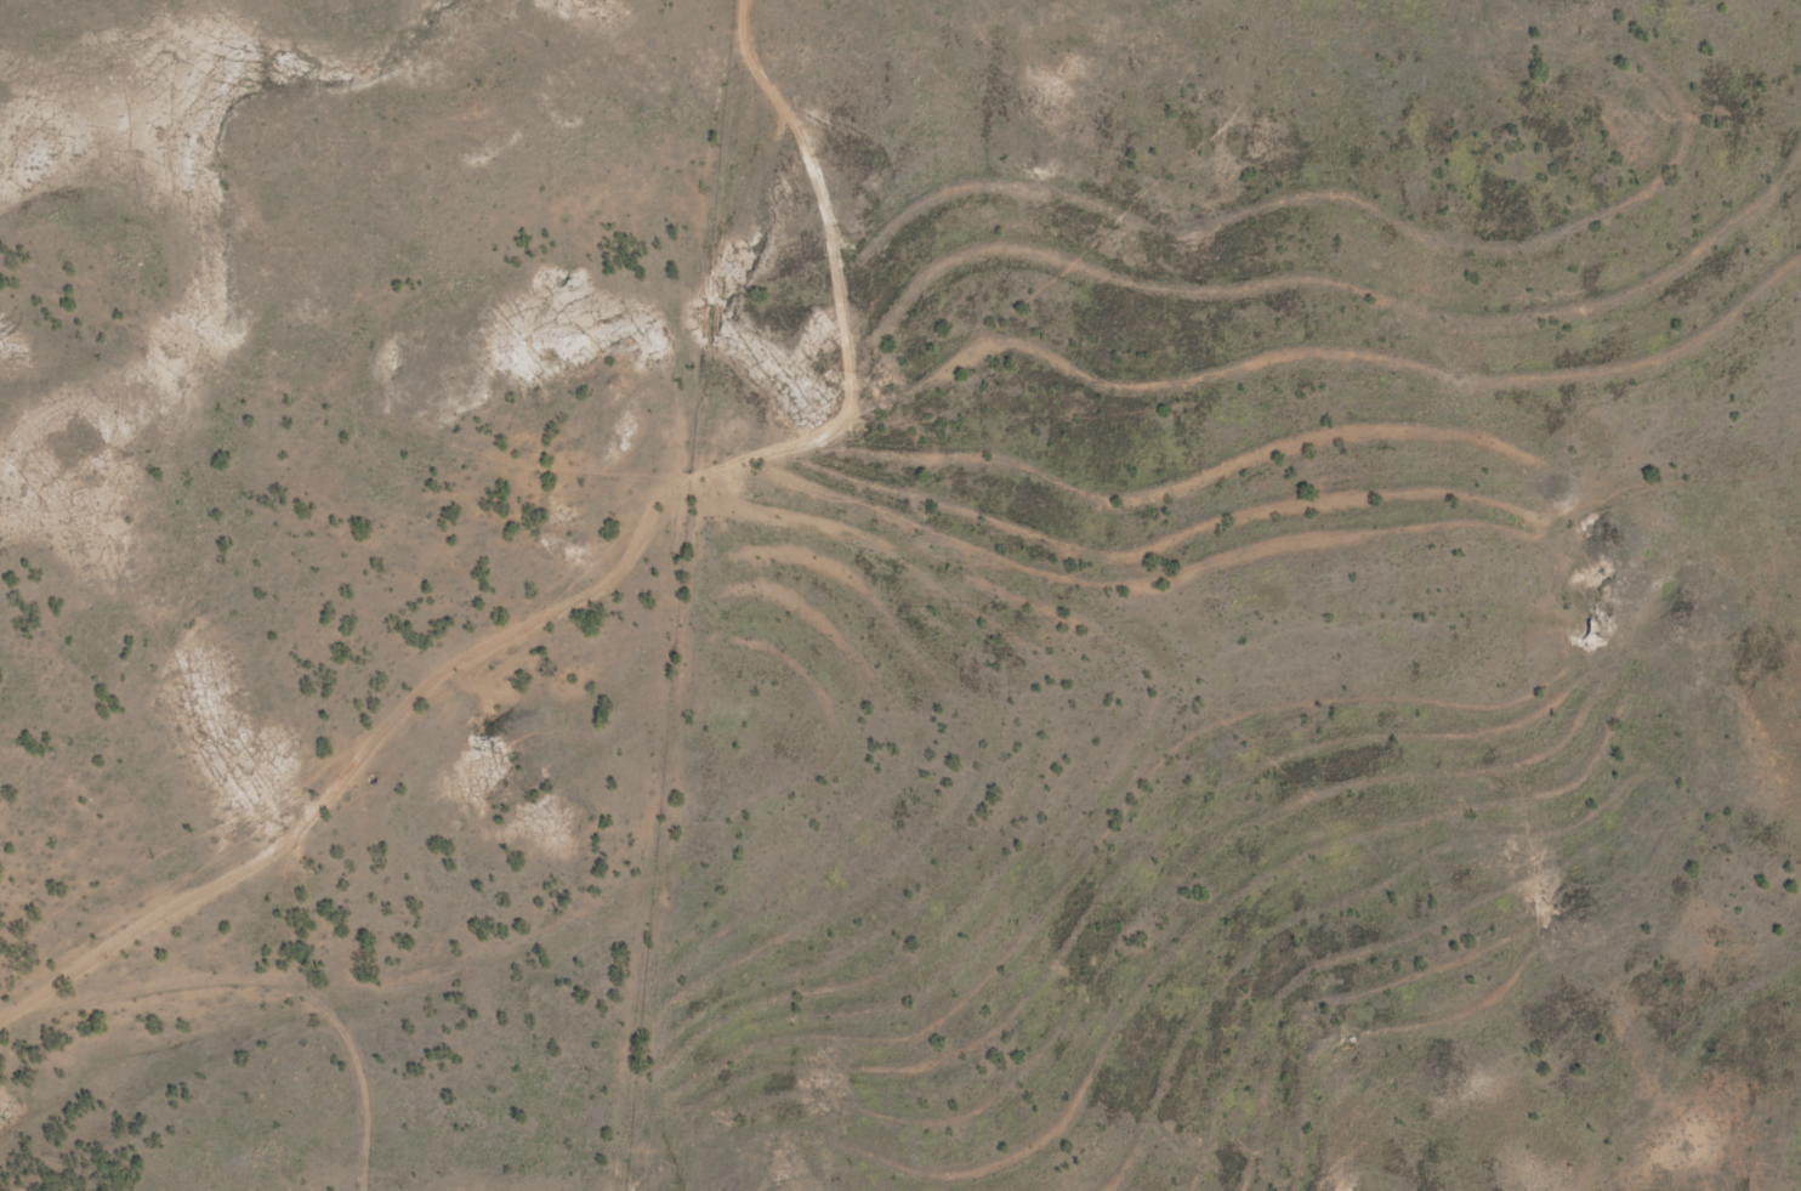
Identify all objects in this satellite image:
road: (694, 597)
road: (175, 891)

